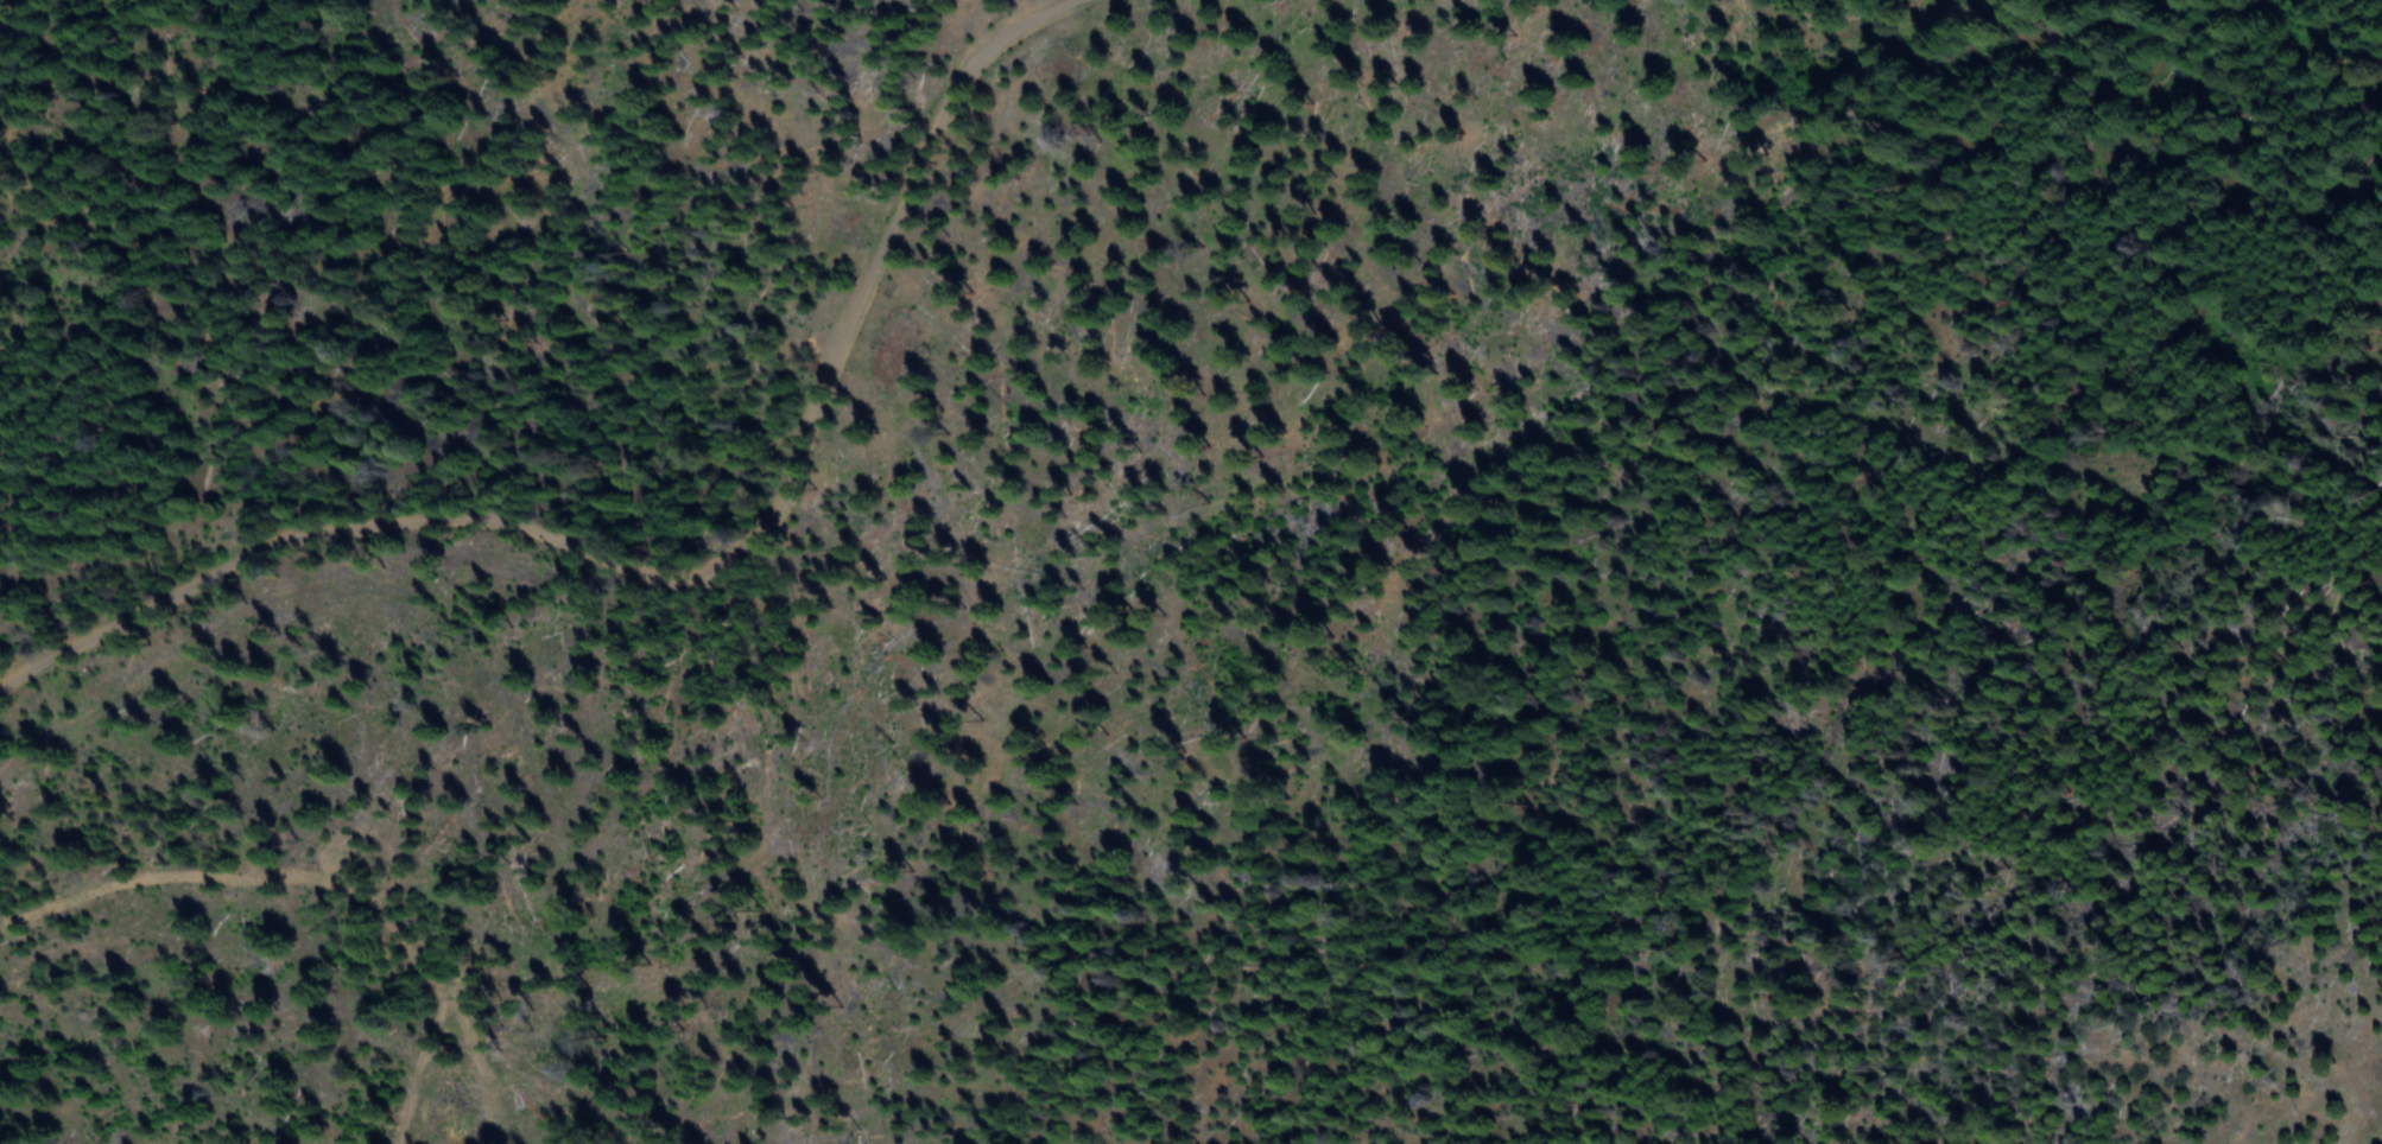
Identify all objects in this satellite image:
road: (682, 581)

